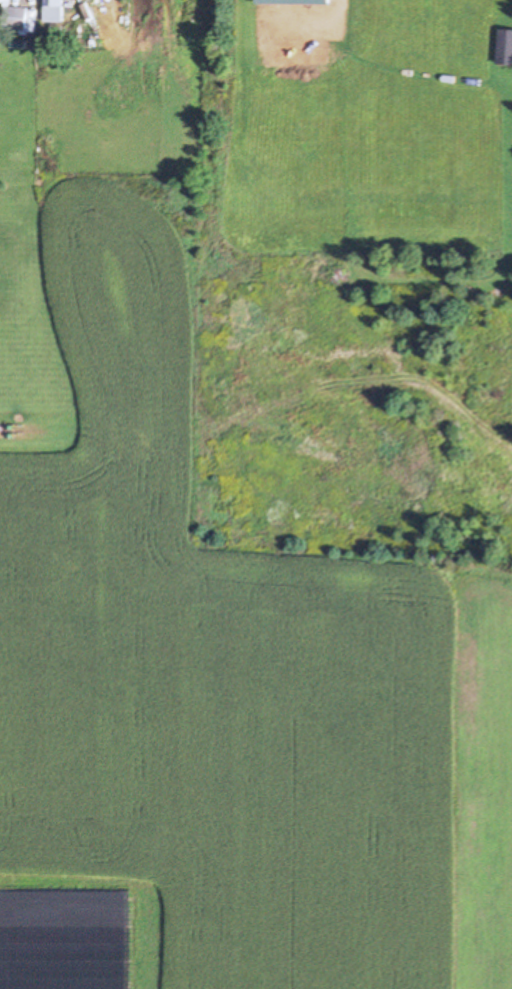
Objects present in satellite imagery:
building: (295, 0)
building: (56, 10)
building: (21, 19)
building: (505, 50)
road: (33, 428)

